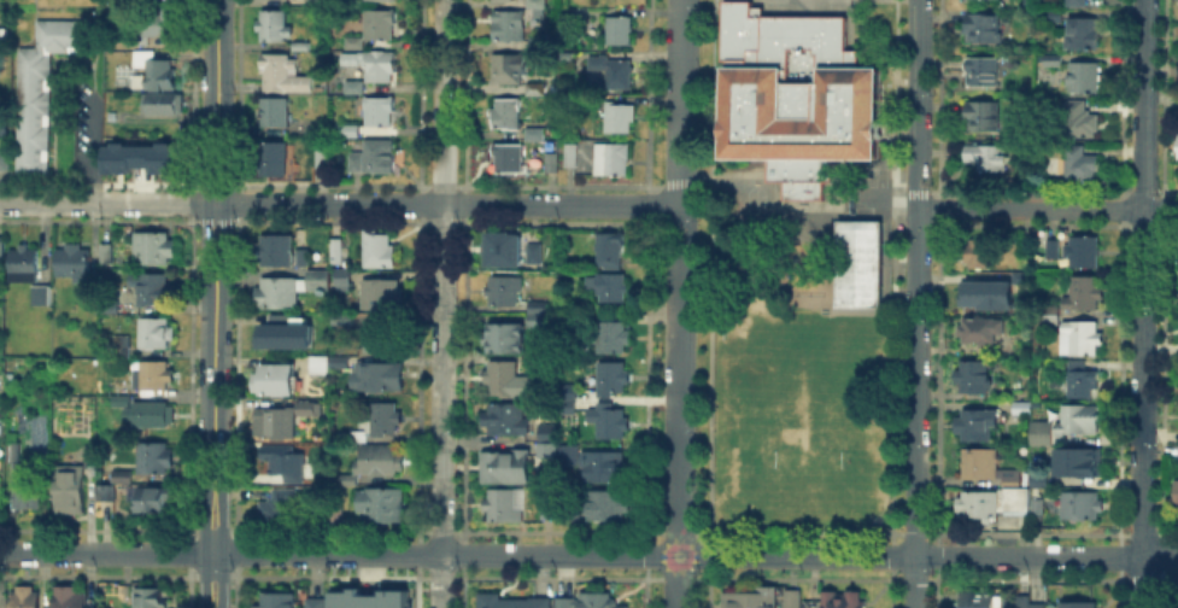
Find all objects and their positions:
building: (306, 0)
building: (492, 0)
building: (379, 1)
building: (503, 1)
building: (317, 2)
building: (537, 2)
building: (1076, 4)
building: (1050, 17)
building: (159, 22)
building: (275, 25)
building: (382, 25)
building: (509, 27)
building: (984, 30)
building: (617, 33)
building: (1084, 34)
building: (137, 39)
building: (351, 41)
building: (537, 45)
building: (301, 47)
building: (1053, 63)
building: (381, 65)
building: (510, 69)
building: (614, 72)
building: (984, 74)
building: (156, 76)
building: (285, 76)
building: (1084, 80)
road: (915, 82)
building: (353, 87)
building: (43, 90)
building: (537, 90)
building: (798, 97)
road: (215, 101)
road: (678, 103)
building: (163, 104)
building: (380, 112)
building: (276, 113)
building: (508, 116)
building: (983, 116)
building: (619, 119)
building: (1079, 122)
building: (1, 124)
building: (350, 133)
building: (535, 134)
building: (1177, 147)
road: (89, 152)
building: (572, 157)
building: (2, 158)
building: (139, 158)
building: (376, 158)
building: (987, 158)
building: (352, 159)
building: (510, 159)
building: (611, 159)
building: (274, 160)
building: (551, 160)
building: (327, 162)
building: (1079, 166)
road: (910, 186)
road: (916, 186)
road: (339, 203)
road: (1030, 209)
road: (1160, 210)
road: (787, 215)
road: (216, 221)
road: (207, 232)
road: (224, 232)
road: (678, 233)
road: (682, 233)
building: (0, 242)
building: (503, 249)
building: (609, 249)
building: (156, 250)
building: (1054, 250)
building: (379, 251)
building: (279, 252)
building: (335, 252)
building: (1083, 252)
building: (107, 255)
building: (535, 255)
building: (977, 255)
building: (860, 263)
building: (75, 264)
building: (24, 265)
building: (956, 274)
building: (1177, 274)
building: (341, 280)
building: (316, 282)
building: (609, 287)
building: (150, 290)
building: (504, 291)
building: (1086, 292)
building: (279, 293)
building: (980, 293)
building: (380, 296)
building: (47, 297)
building: (90, 297)
road: (443, 304)
road: (1142, 304)
building: (537, 316)
building: (1050, 316)
building: (341, 321)
building: (158, 332)
building: (980, 333)
building: (608, 335)
building: (277, 337)
building: (505, 338)
building: (383, 339)
building: (1080, 340)
building: (119, 346)
road: (915, 355)
building: (342, 359)
building: (547, 366)
building: (318, 367)
road: (213, 370)
building: (154, 376)
building: (379, 376)
building: (974, 378)
building: (610, 379)
building: (345, 380)
building: (502, 380)
building: (277, 381)
building: (1083, 384)
building: (565, 394)
building: (122, 401)
building: (304, 405)
road: (678, 408)
building: (151, 415)
building: (381, 417)
park: (801, 420)
building: (508, 421)
building: (1078, 422)
building: (275, 425)
building: (611, 425)
building: (978, 426)
building: (1037, 431)
building: (354, 438)
building: (547, 440)
building: (13, 452)
building: (569, 455)
building: (157, 458)
building: (92, 460)
building: (281, 460)
building: (381, 461)
building: (1085, 463)
building: (980, 464)
building: (608, 468)
building: (506, 469)
building: (118, 474)
building: (1012, 479)
building: (345, 480)
building: (29, 487)
building: (101, 490)
building: (70, 491)
building: (1174, 493)
building: (152, 498)
building: (1018, 502)
building: (1039, 505)
building: (277, 507)
building: (382, 507)
building: (504, 507)
building: (977, 508)
building: (1083, 508)
building: (610, 509)
building: (574, 510)
building: (549, 511)
building: (332, 516)
road: (904, 527)
road: (913, 528)
road: (213, 532)
road: (205, 543)
road: (223, 543)
road: (338, 555)
road: (795, 555)
road: (1027, 555)
road: (1160, 555)
road: (213, 574)
road: (675, 581)
road: (913, 581)
building: (69, 596)
building: (25, 597)
building: (152, 598)
building: (365, 598)
building: (280, 600)
building: (792, 600)
building: (978, 600)
building: (594, 601)
building: (750, 601)
building: (844, 601)
building: (511, 602)
building: (1024, 602)
building: (1177, 602)
building: (315, 603)
building: (565, 603)
building: (1082, 606)
building: (1039, 607)

